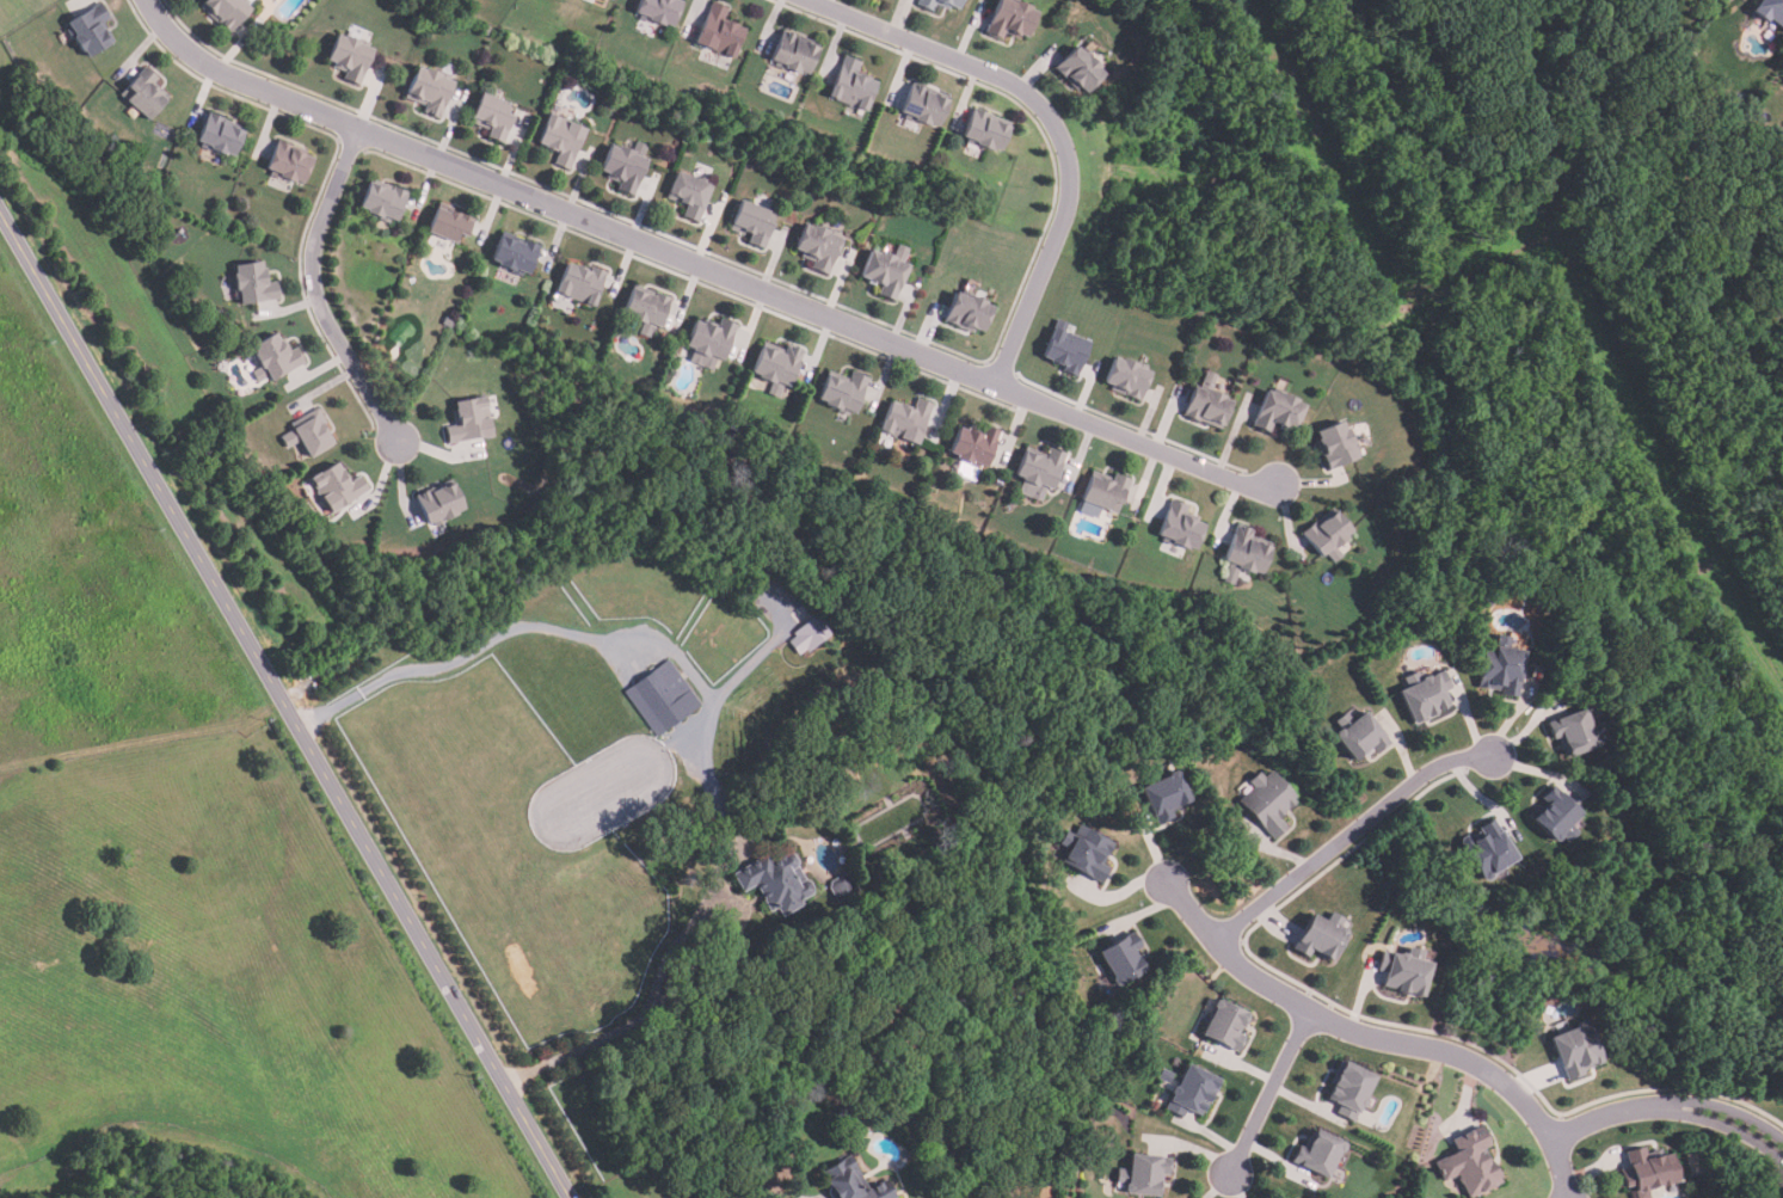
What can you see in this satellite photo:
building: (929, 6)
building: (660, 10)
building: (1771, 10)
building: (227, 11)
building: (1014, 19)
building: (92, 29)
building: (721, 30)
building: (797, 53)
building: (349, 57)
building: (1082, 68)
building: (854, 85)
building: (429, 91)
building: (145, 93)
building: (926, 105)
building: (491, 116)
road: (1051, 122)
building: (989, 129)
building: (221, 134)
building: (560, 140)
building: (289, 161)
building: (625, 166)
building: (690, 193)
building: (383, 202)
building: (755, 223)
building: (450, 225)
building: (820, 246)
building: (515, 254)
road: (697, 265)
building: (887, 271)
building: (582, 282)
building: (254, 283)
road: (314, 291)
building: (648, 309)
building: (969, 312)
building: (712, 342)
building: (1068, 349)
building: (275, 357)
building: (779, 367)
building: (1130, 377)
building: (844, 393)
building: (1209, 401)
building: (1279, 412)
building: (908, 419)
building: (471, 422)
building: (309, 434)
building: (976, 444)
building: (1338, 444)
building: (1040, 472)
building: (338, 487)
building: (1107, 492)
building: (441, 504)
building: (1181, 526)
building: (1329, 534)
building: (1248, 551)
road: (509, 631)
building: (811, 635)
building: (1504, 669)
building: (1426, 695)
building: (662, 698)
road: (288, 704)
building: (1576, 732)
road: (694, 735)
building: (1363, 735)
building: (1168, 797)
building: (1269, 804)
building: (1558, 813)
road: (1348, 837)
building: (1490, 850)
building: (1089, 853)
building: (776, 881)
building: (844, 886)
building: (1322, 936)
road: (681, 939)
river: (1555, 939)
building: (1126, 960)
building: (1407, 971)
building: (1022, 989)
building: (1229, 1027)
road: (1378, 1040)
building: (1578, 1050)
building: (1167, 1076)
building: (1195, 1089)
building: (1353, 1091)
road: (1268, 1095)
road: (1727, 1112)
building: (851, 1116)
road: (1605, 1118)
road: (1727, 1126)
building: (1321, 1155)
building: (1472, 1163)
building: (1649, 1173)
building: (1145, 1175)
building: (855, 1181)

